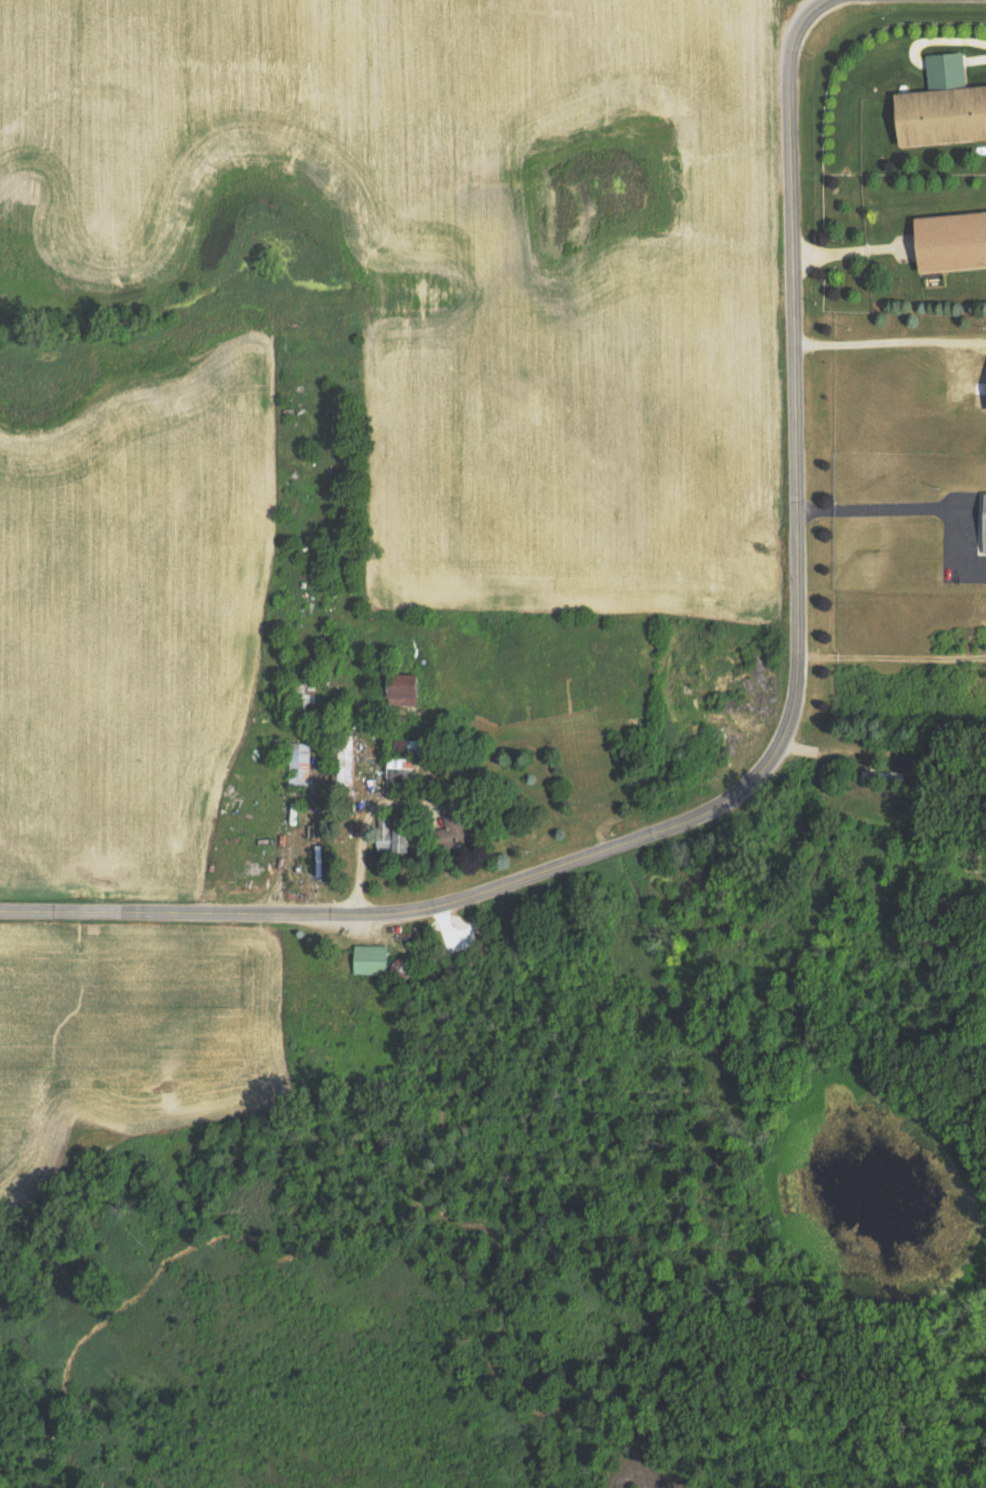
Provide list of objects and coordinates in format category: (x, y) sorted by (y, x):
building: (942, 106)
building: (952, 241)
building: (985, 401)
building: (983, 525)
building: (406, 691)
road: (789, 698)
building: (300, 764)
building: (456, 823)
building: (383, 824)
building: (319, 861)
building: (372, 960)

